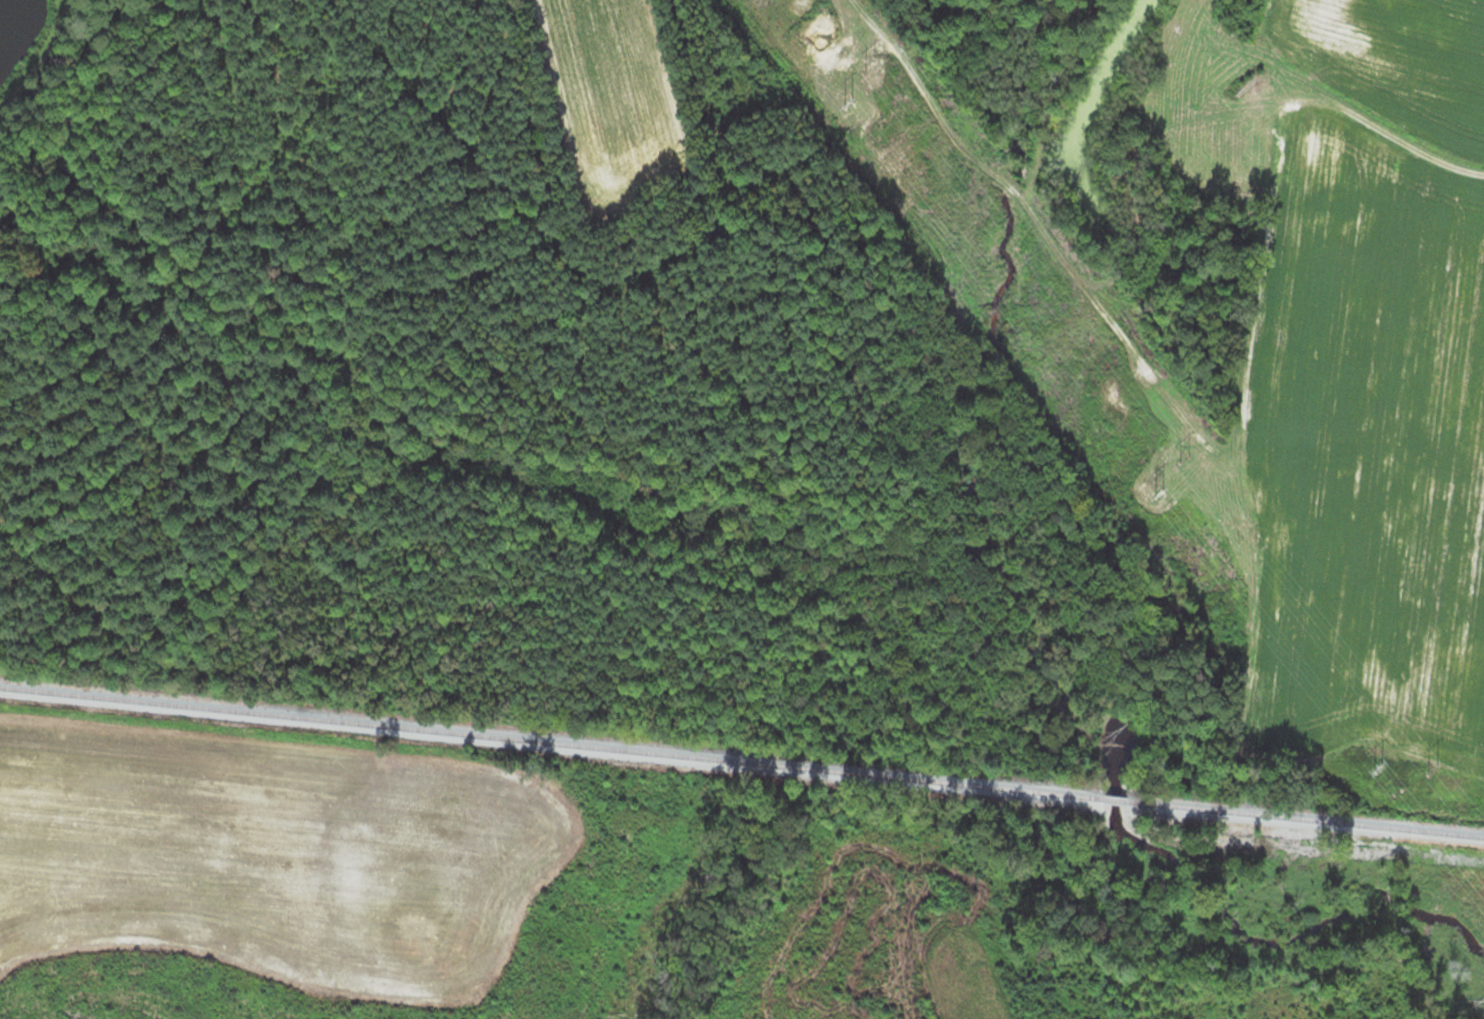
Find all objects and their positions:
road: (44, 63)
power tower: (873, 64)
power tower: (1189, 458)
railway: (552, 741)
power tower: (1441, 767)
railway: (1118, 798)
railway: (1307, 817)

